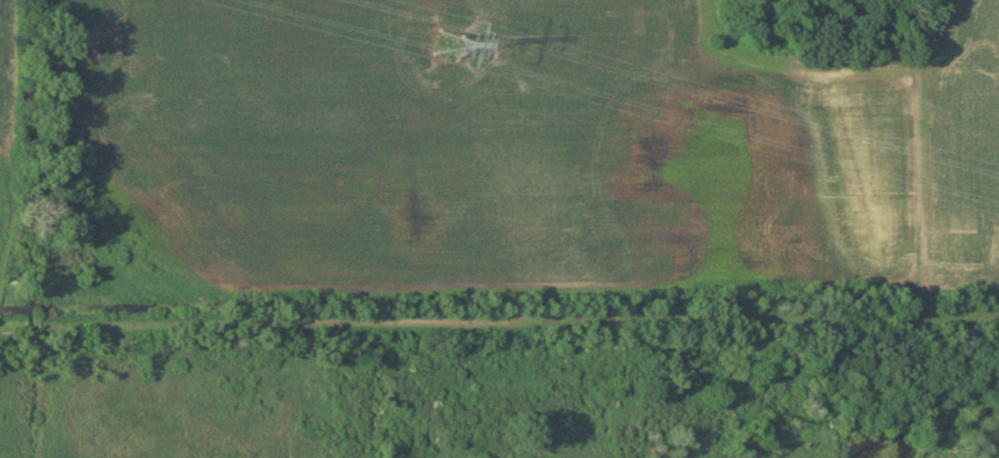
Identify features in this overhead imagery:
power tower: (448, 46)
road: (499, 321)

